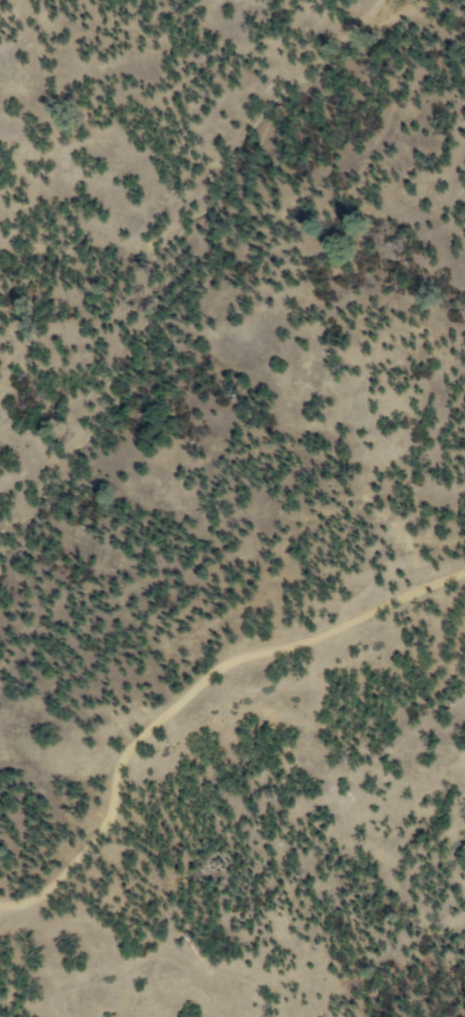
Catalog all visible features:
road: (195, 704)

